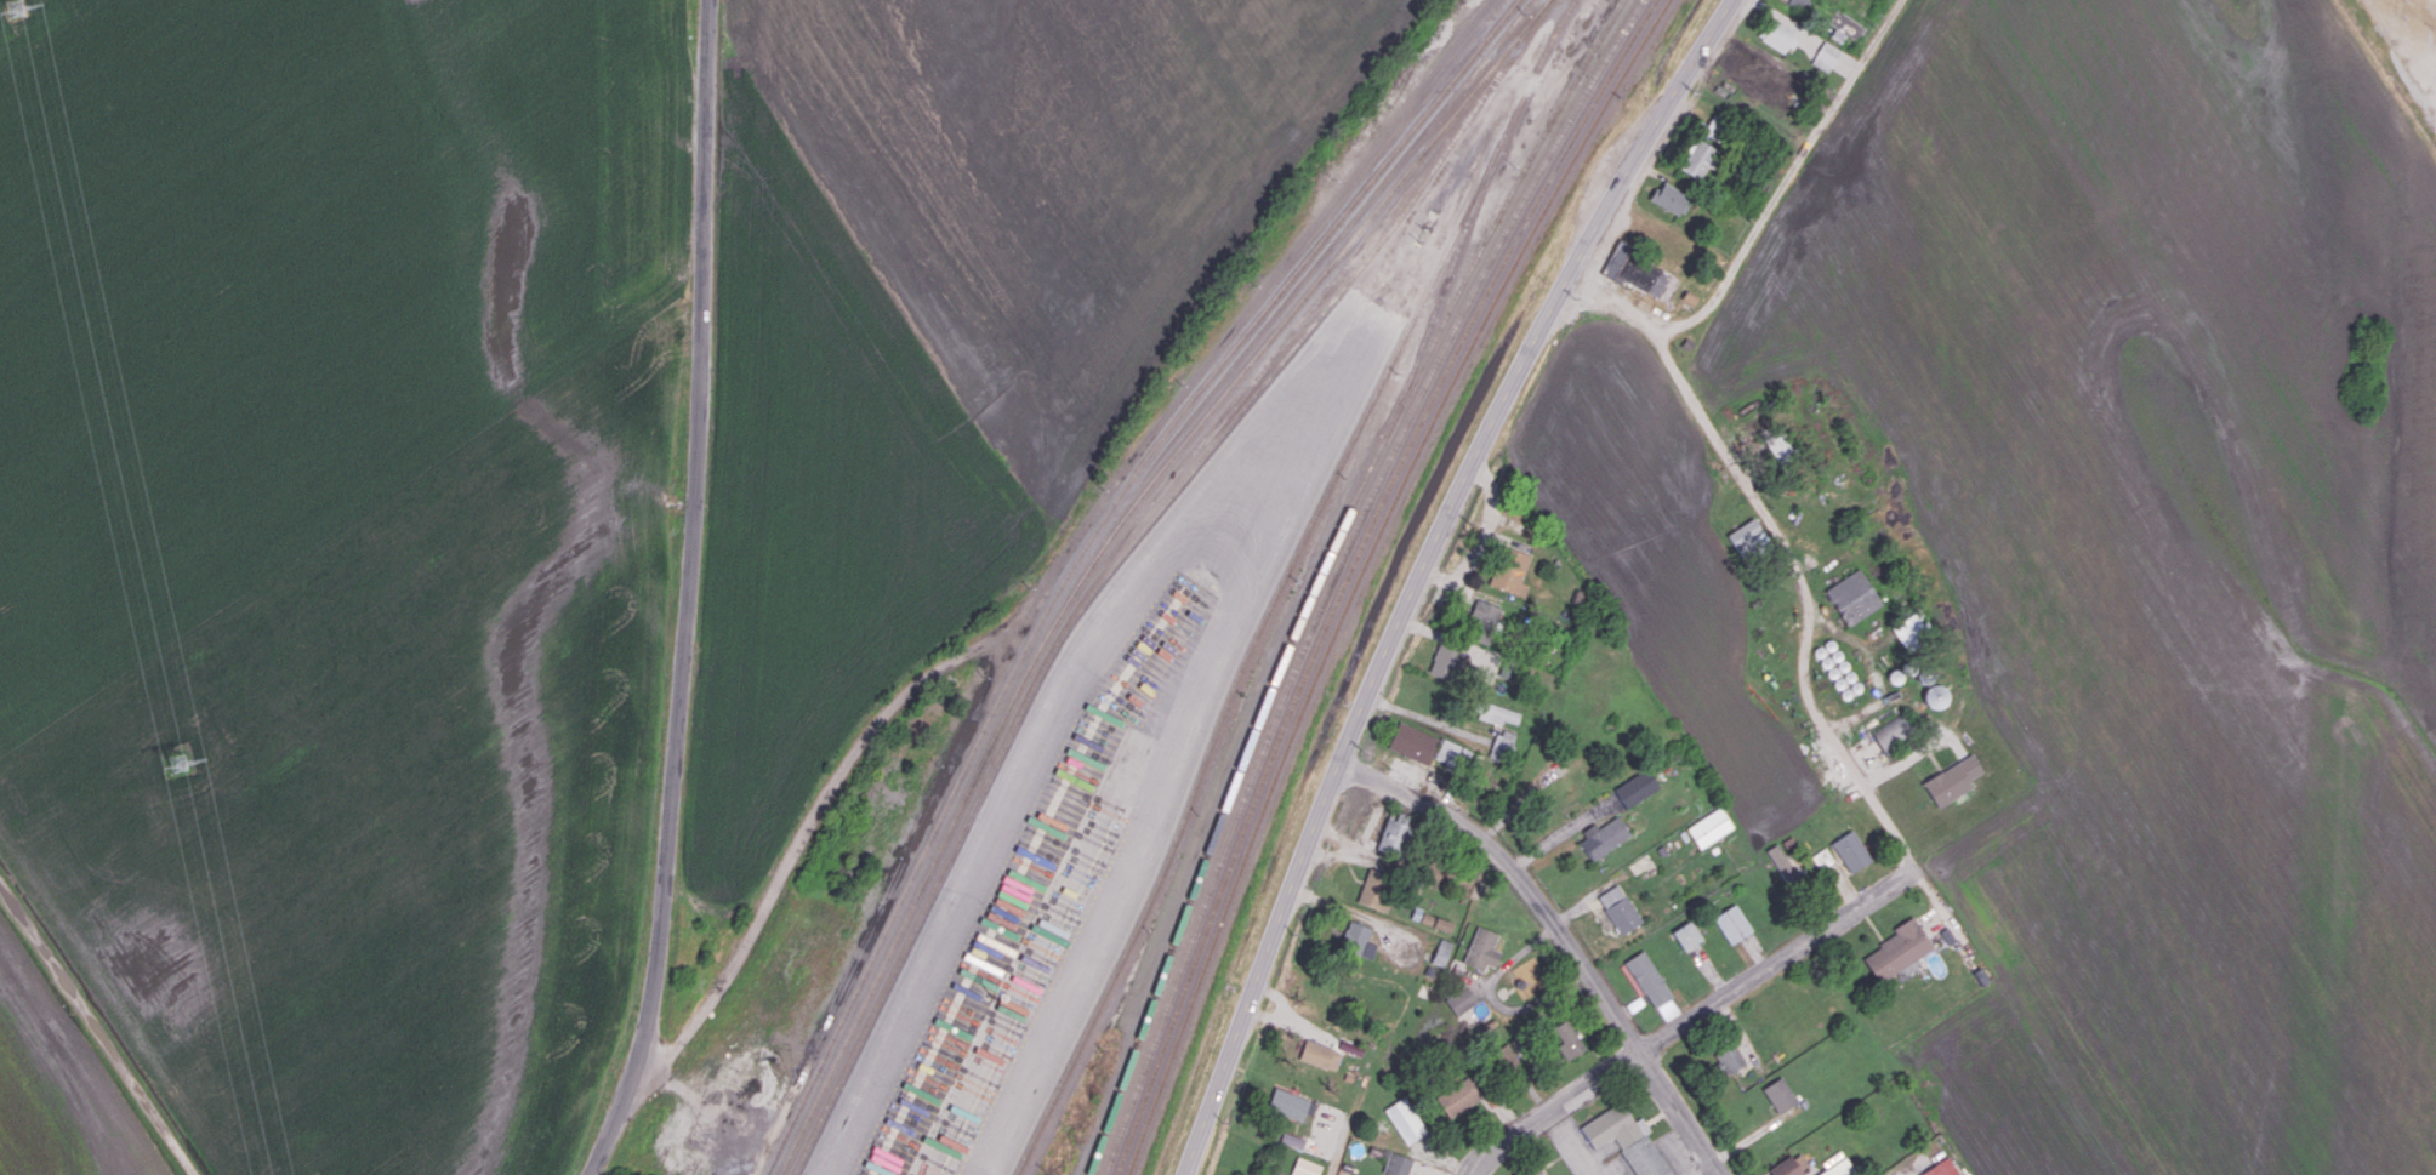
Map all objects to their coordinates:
building: (1802, 4)
power tower: (11, 7)
building: (1848, 24)
building: (1778, 35)
building: (1758, 69)
building: (1715, 126)
building: (1698, 159)
road: (1786, 177)
building: (1669, 198)
building: (1640, 273)
railway: (1444, 287)
crop: (933, 341)
building: (1780, 446)
road: (1185, 534)
building: (1747, 536)
road: (1788, 548)
crop: (342, 549)
railway: (1083, 549)
railway: (1119, 554)
railway: (1098, 555)
crop: (1662, 557)
crop: (2151, 557)
road: (1421, 569)
railway: (1350, 570)
railway: (1362, 570)
railway: (1321, 571)
railway: (1337, 571)
building: (1512, 571)
railway: (1282, 581)
road: (690, 593)
building: (1852, 597)
building: (1481, 621)
building: (1909, 629)
building: (1484, 658)
building: (1445, 662)
building: (1936, 696)
building: (1497, 713)
building: (1895, 729)
building: (1413, 742)
building: (1501, 746)
building: (1453, 753)
power tower: (176, 766)
building: (1952, 780)
building: (1637, 788)
building: (1709, 827)
road: (1560, 831)
building: (1394, 834)
building: (1604, 837)
building: (1851, 850)
building: (1822, 857)
building: (1782, 863)
building: (1376, 889)
building: (1618, 908)
building: (1435, 922)
building: (1732, 923)
road: (1559, 935)
building: (1686, 935)
building: (1358, 939)
building: (1482, 948)
building: (1897, 949)
building: (1441, 952)
building: (1652, 985)
building: (1461, 1000)
road: (1689, 1017)
road: (98, 1026)
building: (1567, 1039)
building: (1320, 1055)
building: (1504, 1056)
building: (1729, 1057)
crop: (58, 1085)
building: (1780, 1095)
building: (1457, 1096)
building: (1290, 1103)
building: (1405, 1119)
building: (1627, 1139)
road: (1570, 1143)
building: (1398, 1164)
building: (1791, 1165)
building: (1305, 1167)
road: (1698, 1167)
building: (1838, 1168)
building: (1942, 1168)
building: (1530, 1171)
road: (1896, 1171)

